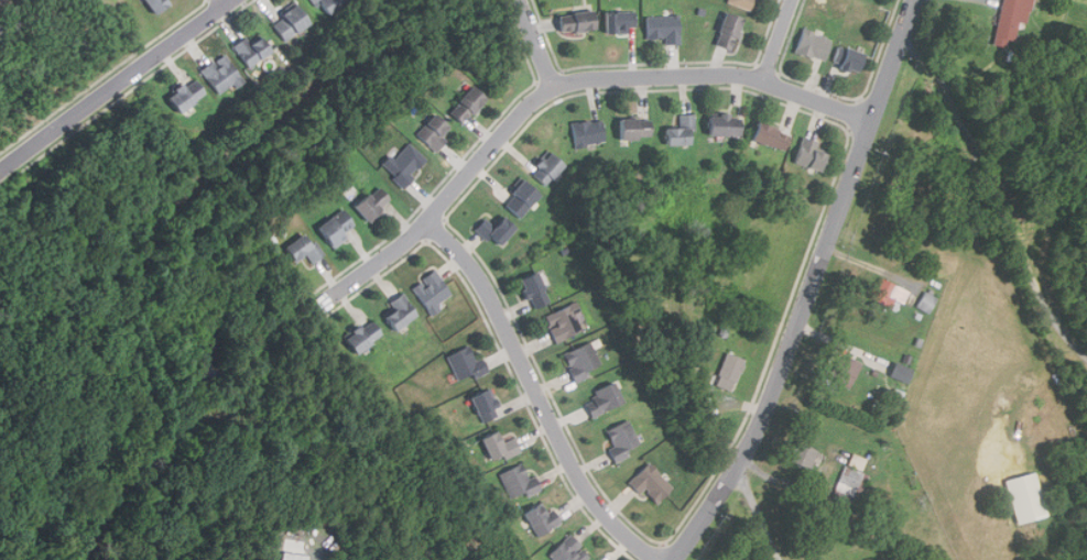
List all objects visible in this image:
building: (0, 1)
building: (741, 3)
building: (161, 4)
building: (327, 6)
building: (290, 22)
building: (620, 22)
building: (1008, 22)
building: (576, 23)
building: (663, 28)
building: (727, 32)
road: (778, 40)
road: (536, 43)
building: (813, 45)
building: (260, 52)
building: (849, 62)
building: (221, 75)
road: (558, 84)
road: (116, 85)
building: (183, 95)
building: (465, 106)
building: (724, 125)
building: (634, 129)
building: (434, 132)
building: (682, 132)
building: (587, 133)
building: (769, 138)
building: (808, 155)
building: (405, 163)
building: (546, 168)
road: (1000, 195)
building: (521, 199)
building: (371, 202)
building: (333, 224)
building: (494, 230)
building: (303, 250)
road: (797, 288)
road: (813, 288)
building: (432, 290)
building: (534, 290)
building: (889, 294)
building: (927, 303)
building: (399, 312)
building: (565, 322)
building: (361, 337)
building: (583, 361)
building: (467, 363)
building: (731, 367)
building: (845, 371)
building: (901, 372)
road: (537, 394)
building: (602, 400)
building: (485, 406)
building: (622, 440)
building: (498, 447)
building: (803, 457)
building: (856, 461)
building: (519, 481)
building: (849, 481)
building: (650, 483)
building: (1024, 495)
road: (759, 510)
building: (542, 520)
building: (568, 551)
building: (293, 556)

